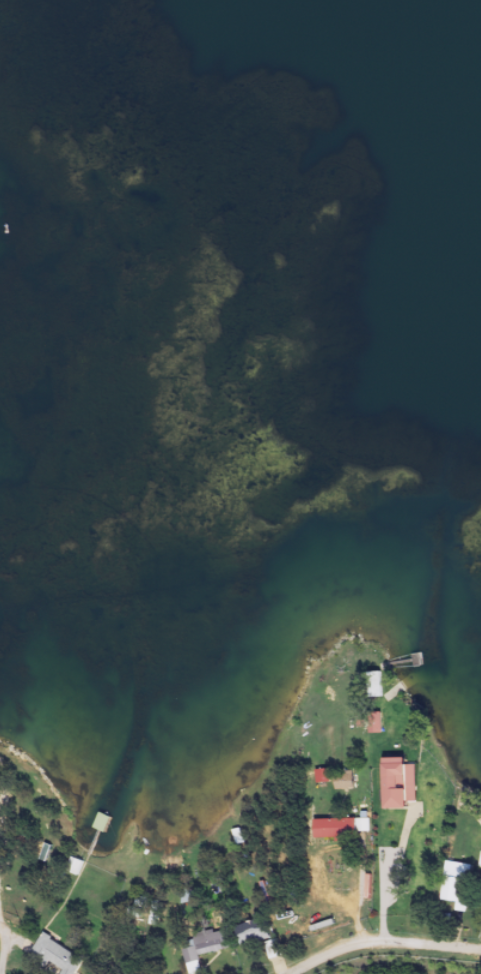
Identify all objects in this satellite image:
building: (376, 729)
building: (324, 783)
building: (345, 787)
building: (400, 790)
building: (363, 832)
building: (336, 835)
building: (455, 891)
building: (253, 939)
road: (383, 943)
road: (4, 948)
building: (212, 948)
building: (55, 960)
building: (192, 964)

